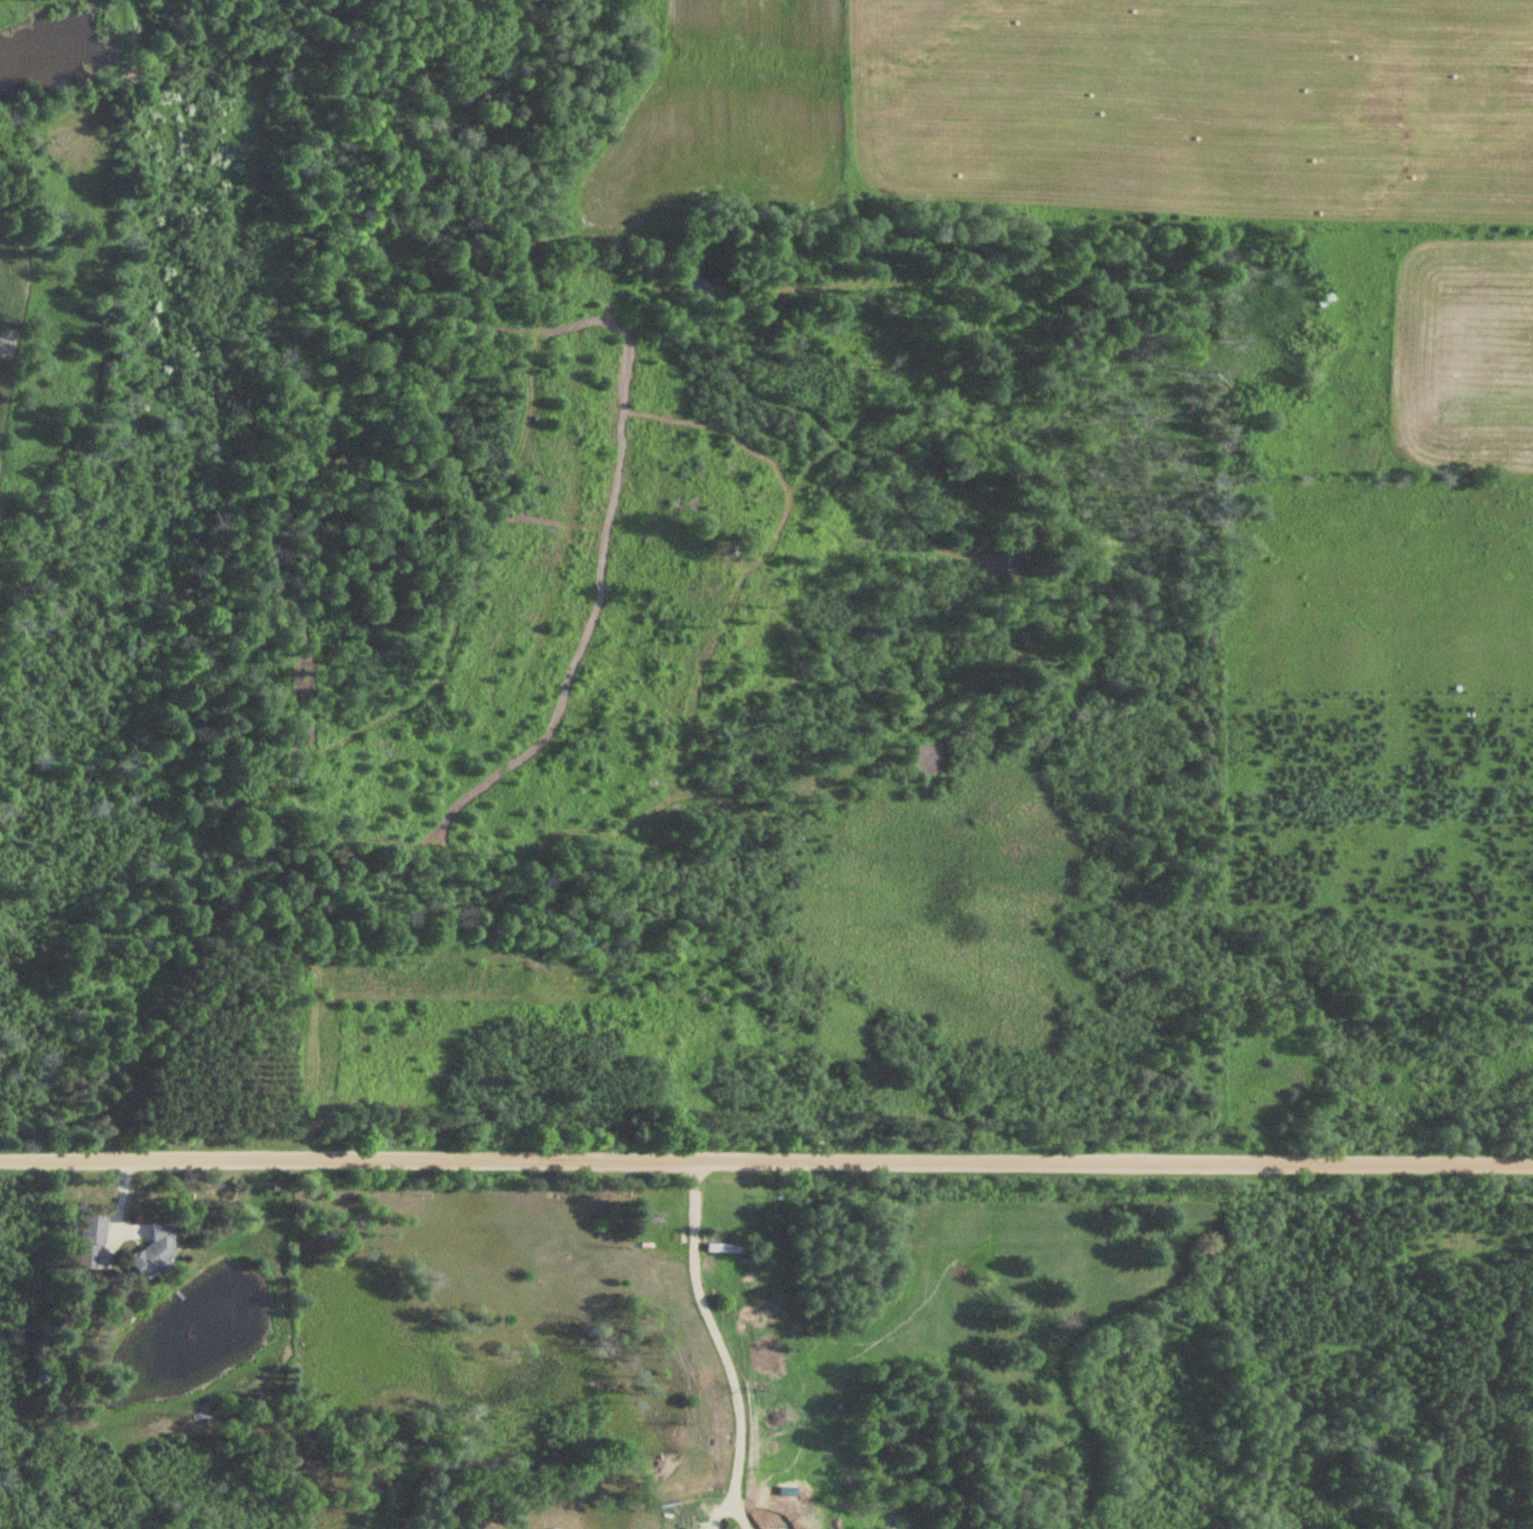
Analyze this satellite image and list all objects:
building: (1326, 300)
road: (766, 1159)
building: (90, 1240)
building: (725, 1248)
building: (154, 1252)
road: (715, 1335)

